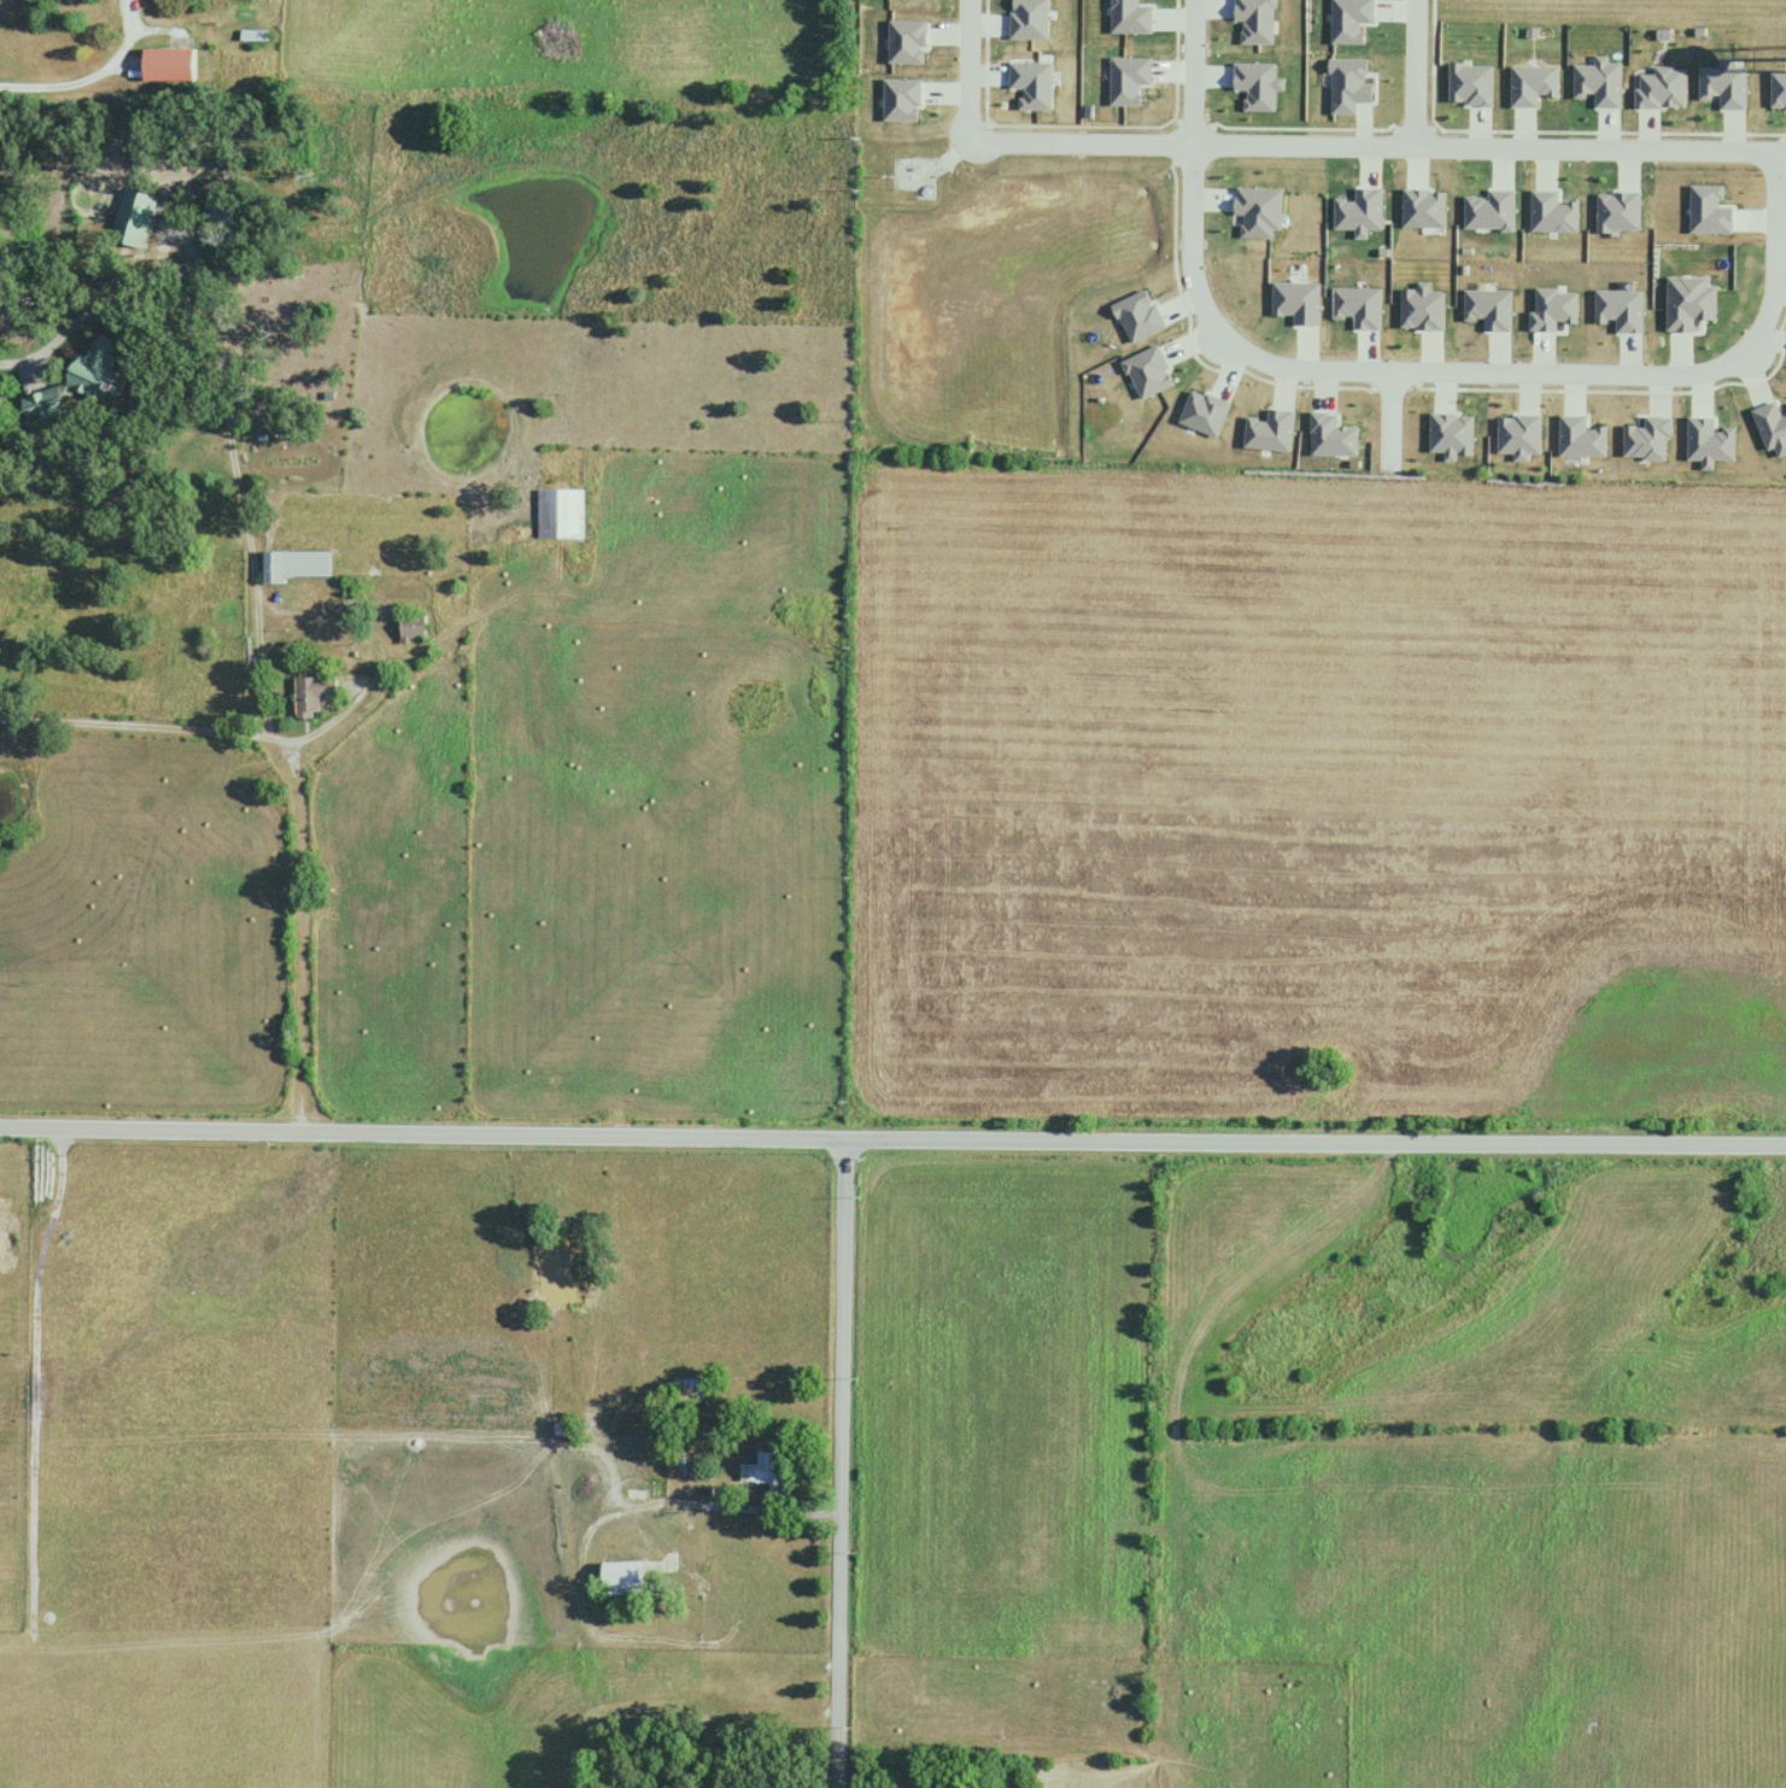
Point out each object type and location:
building: (168, 64)
road: (967, 70)
road: (1191, 72)
road: (1417, 74)
road: (92, 75)
road: (1376, 147)
building: (135, 216)
road: (49, 341)
road: (1485, 374)
building: (72, 385)
building: (560, 514)
building: (298, 565)
building: (412, 627)
building: (312, 694)
road: (299, 785)
road: (892, 1139)
building: (689, 1388)
road: (841, 1464)
building: (762, 1471)
building: (620, 1578)

